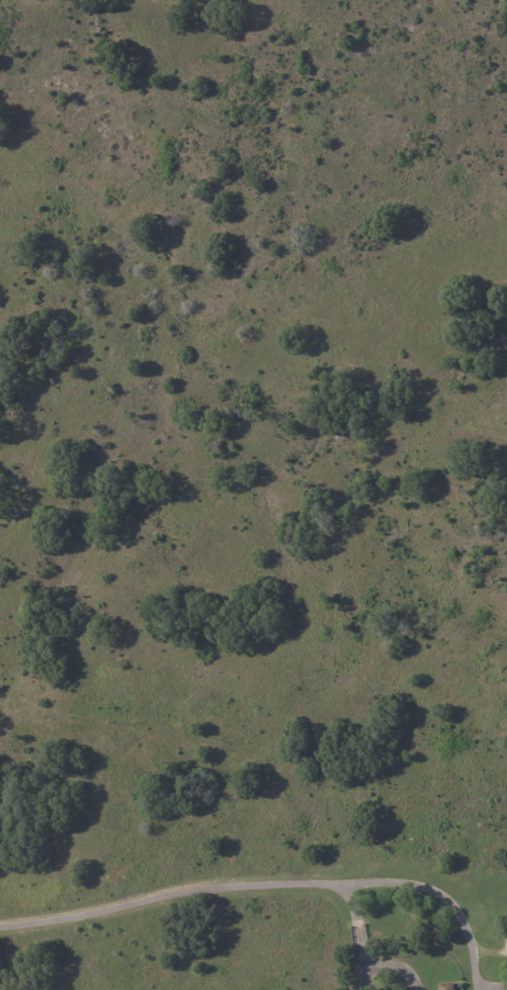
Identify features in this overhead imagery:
road: (223, 885)
road: (437, 893)
building: (448, 987)

